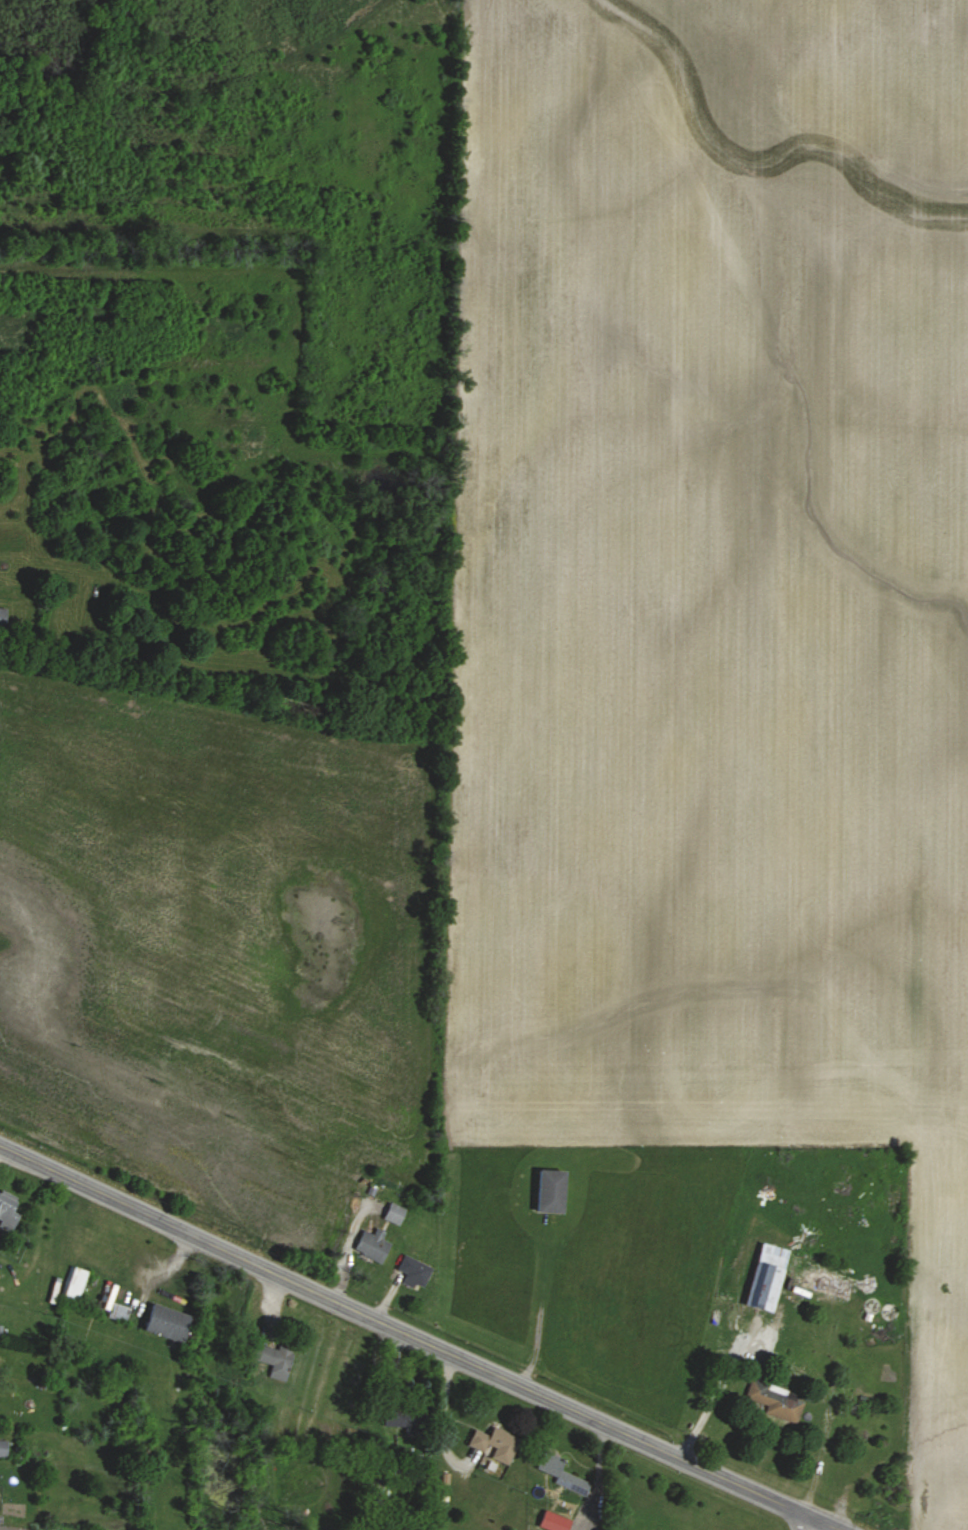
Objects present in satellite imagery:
building: (547, 1190)
building: (7, 1208)
building: (393, 1213)
building: (371, 1245)
building: (412, 1271)
building: (764, 1277)
building: (819, 1283)
building: (74, 1284)
building: (163, 1322)
road: (419, 1340)
building: (272, 1359)
road: (720, 1387)
building: (769, 1398)
road: (827, 1406)
building: (394, 1419)
building: (492, 1443)
building: (3, 1448)
building: (560, 1473)
building: (551, 1521)
road: (803, 1521)

